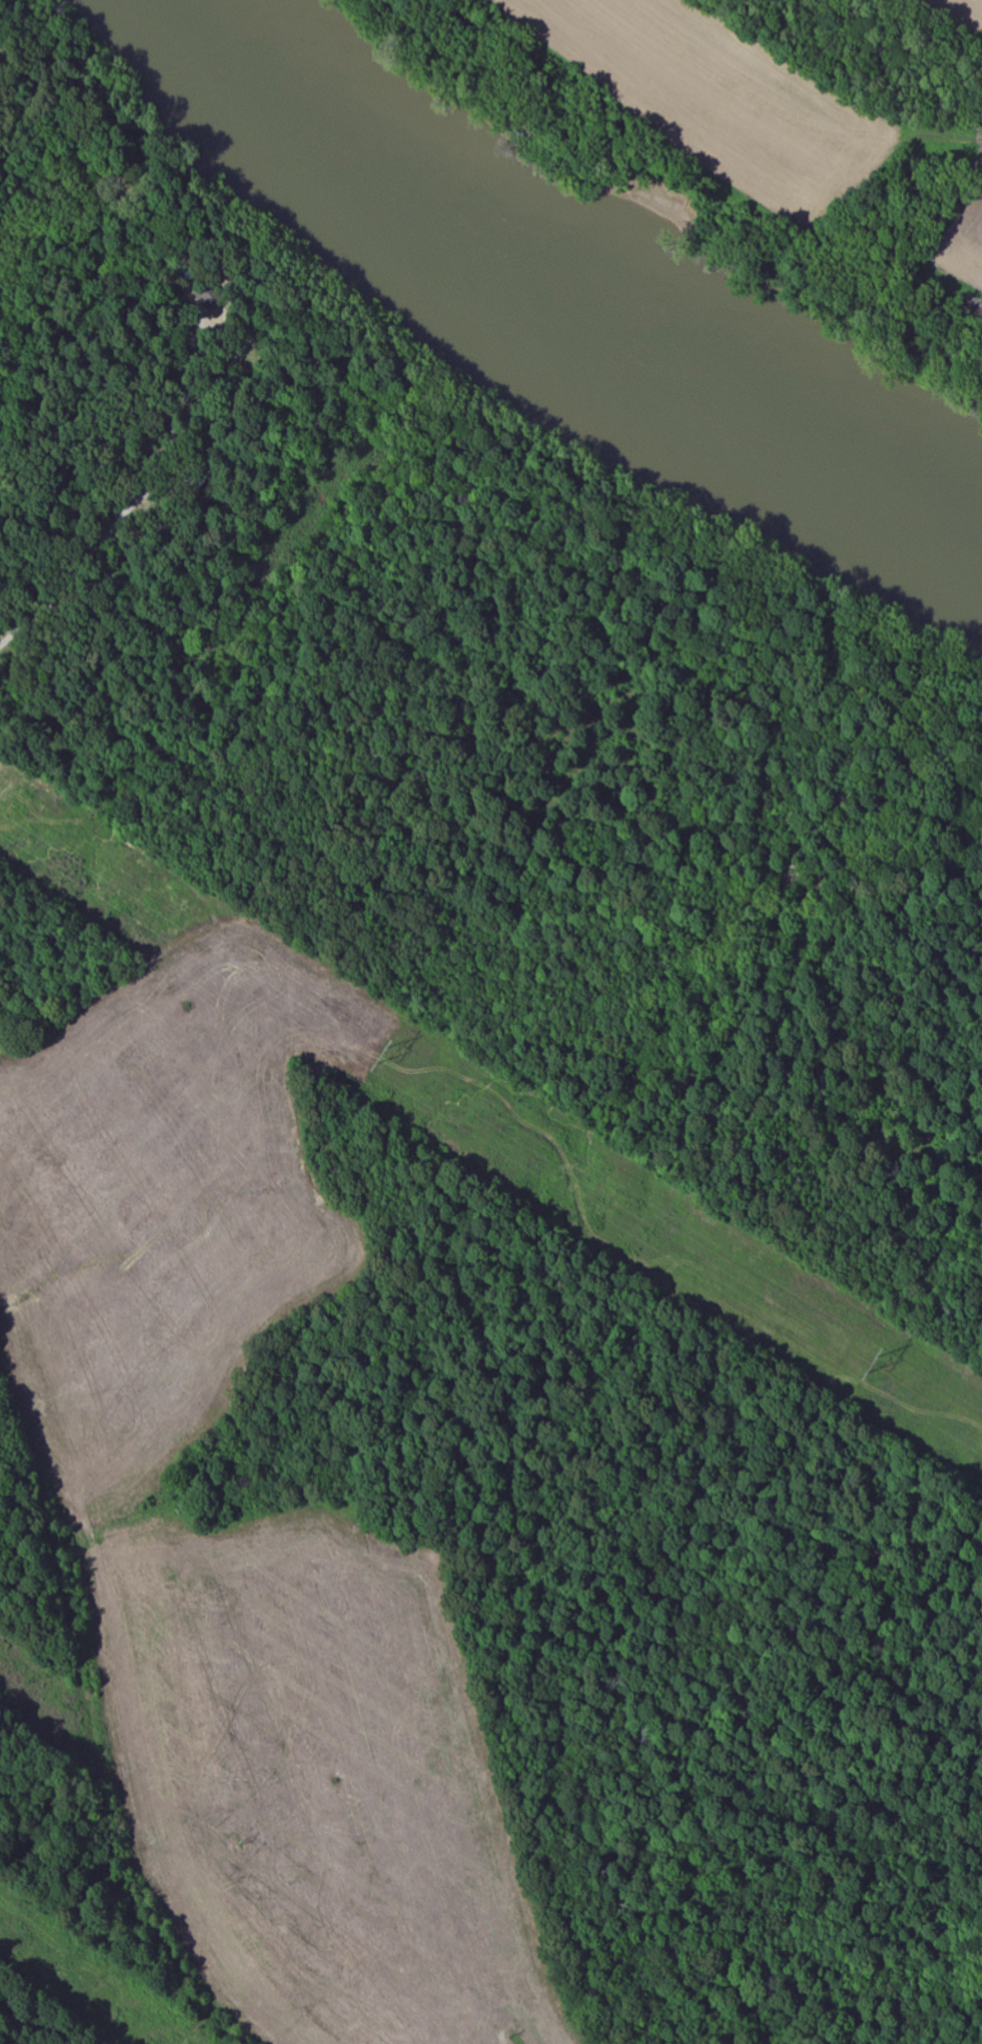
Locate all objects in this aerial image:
river: (559, 284)
power tower: (383, 1057)
power tower: (874, 1365)

